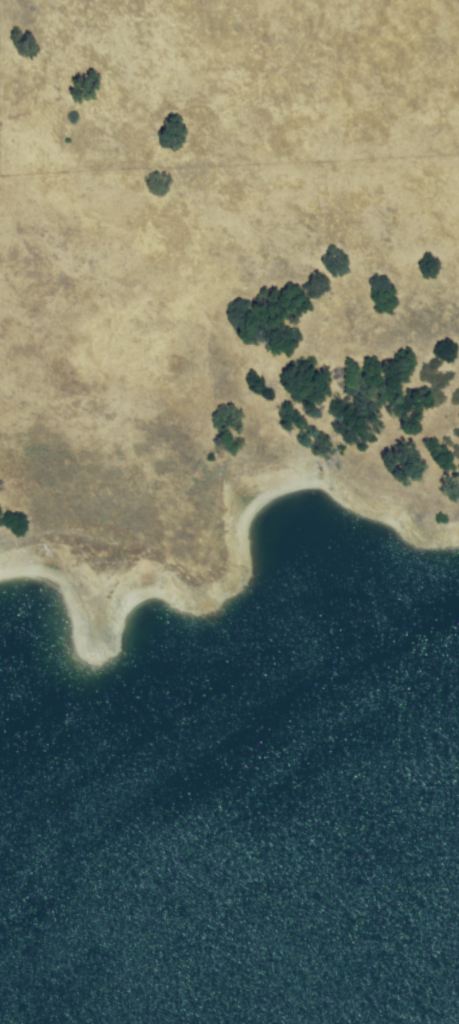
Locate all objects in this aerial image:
river: (422, 650)
river: (185, 717)

